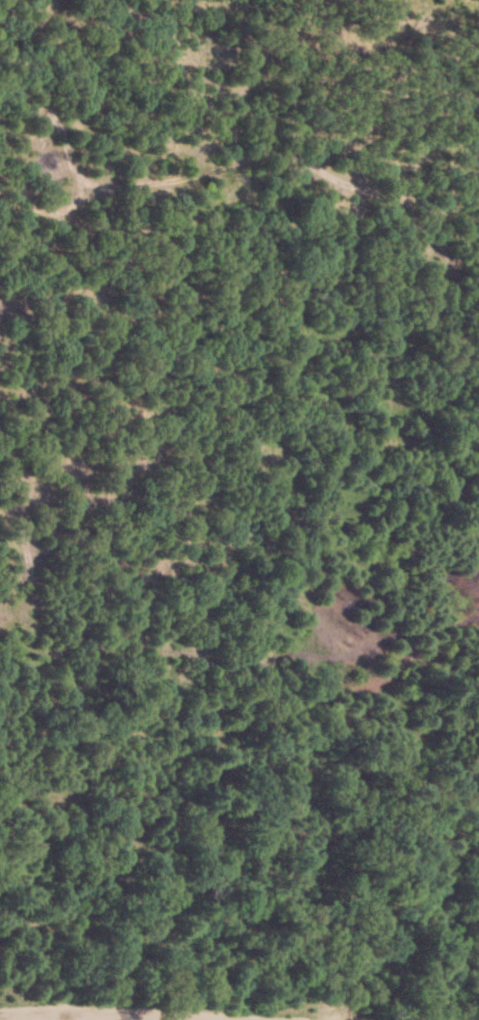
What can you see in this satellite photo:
road: (123, 1014)
road: (236, 1019)

